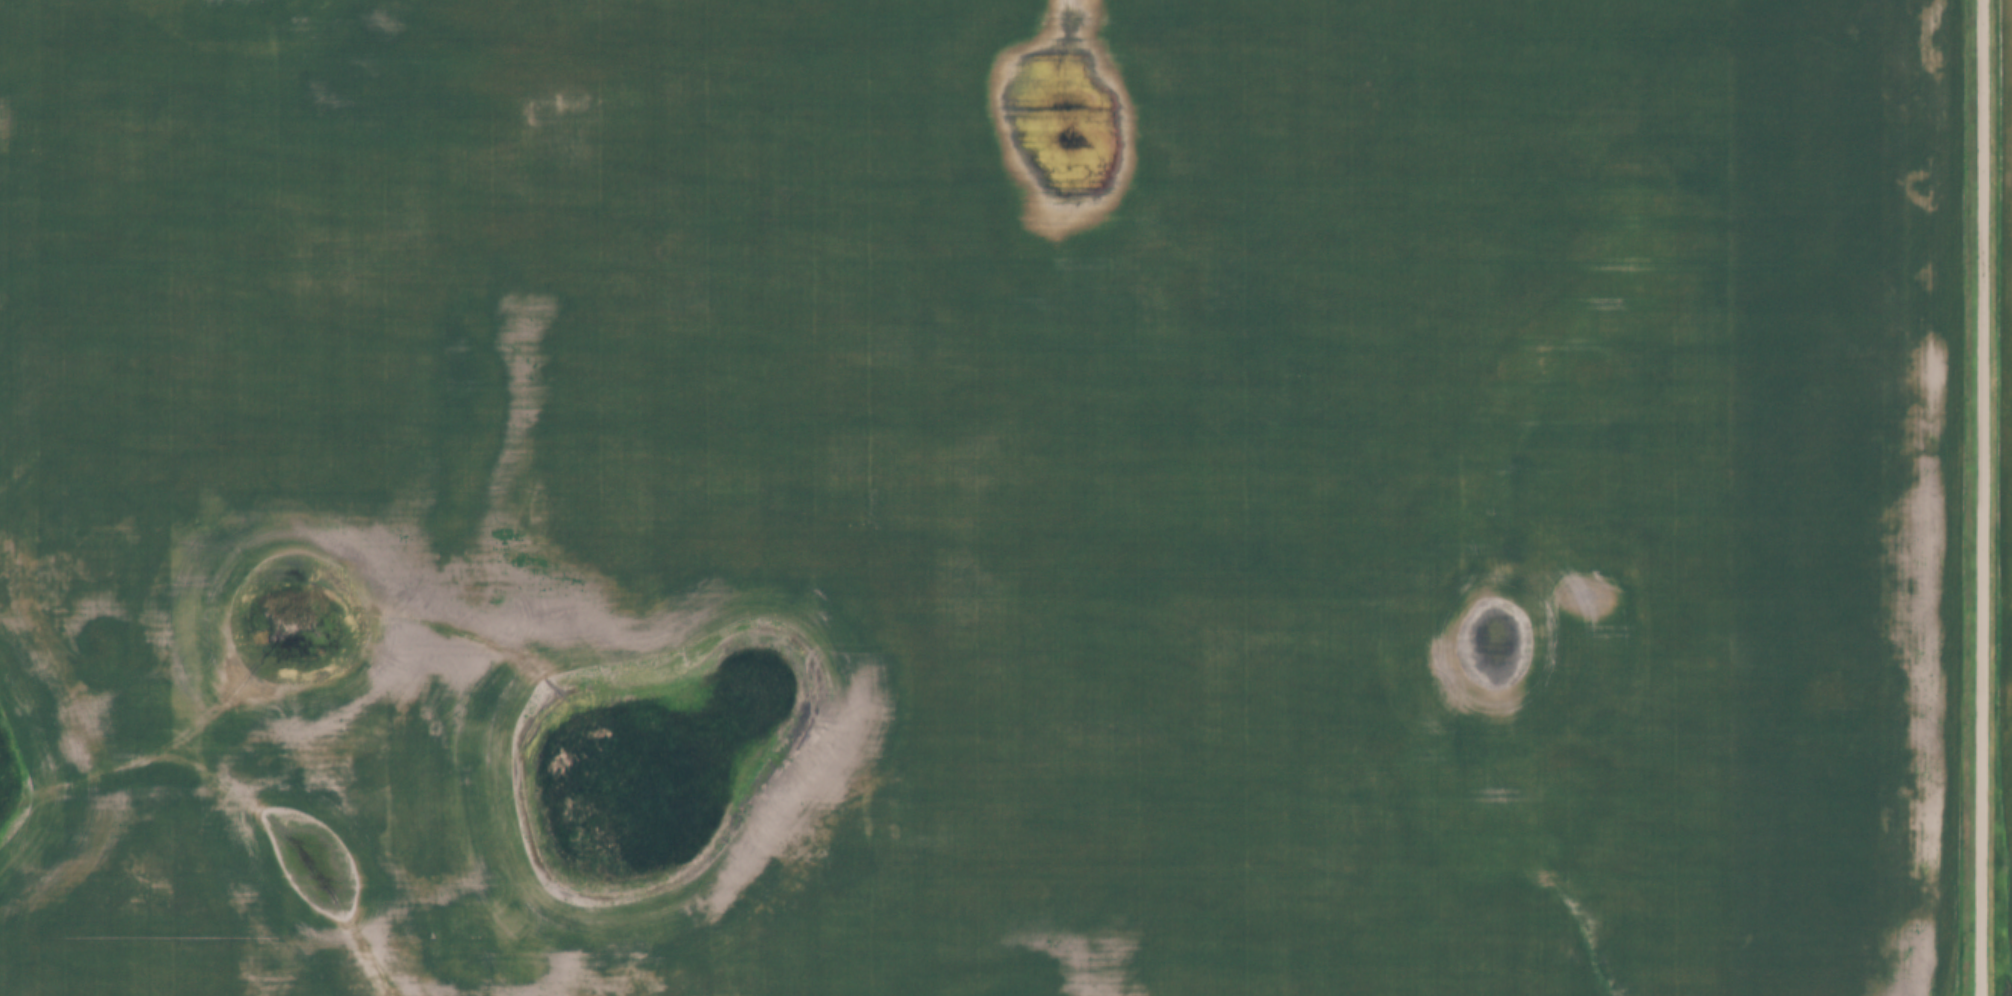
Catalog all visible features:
road: (1981, 497)

